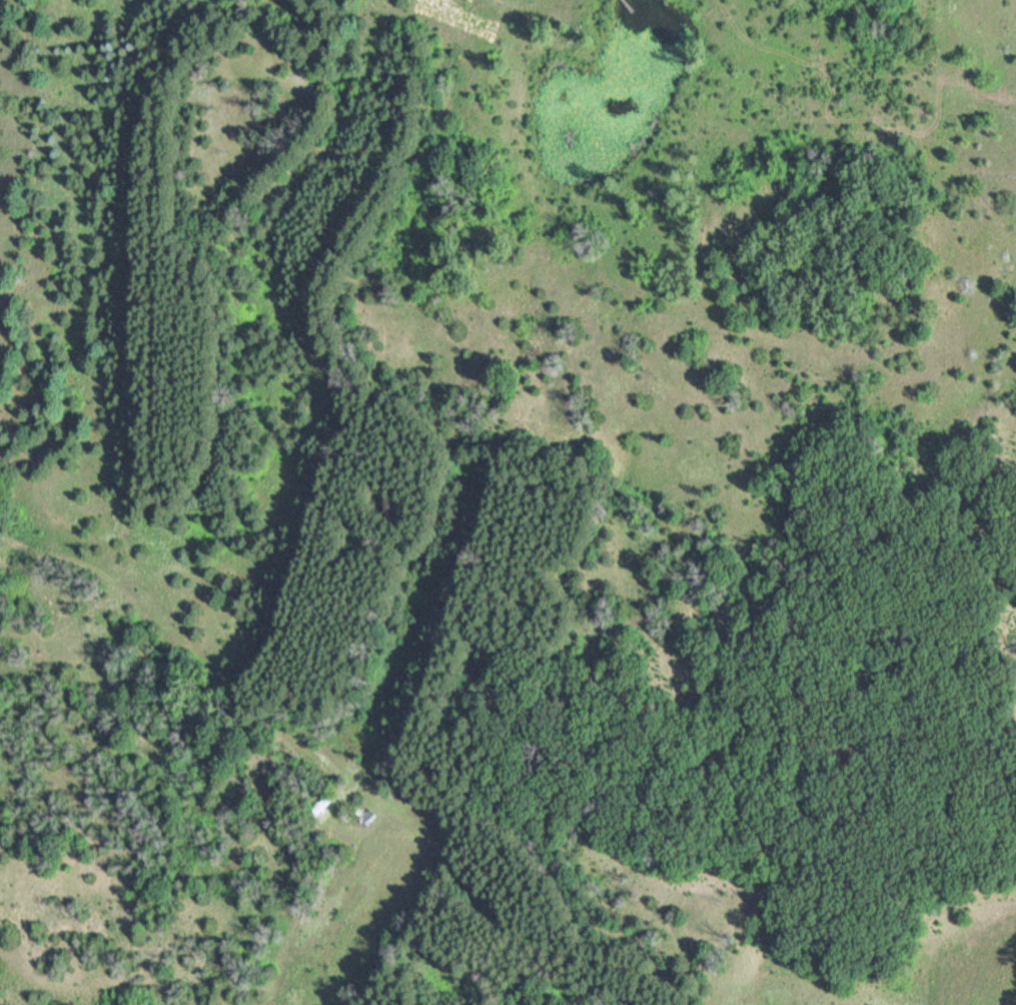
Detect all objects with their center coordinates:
building: (320, 806)

